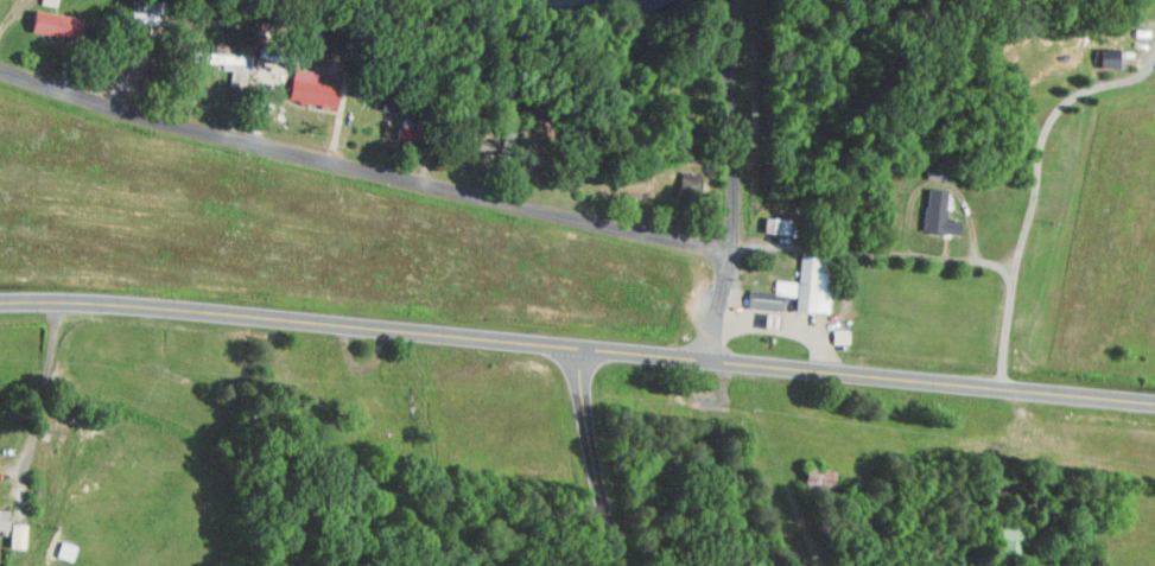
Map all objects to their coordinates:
building: (131, 7)
building: (36, 15)
building: (1094, 50)
building: (221, 57)
building: (297, 82)
road: (360, 161)
building: (675, 178)
road: (724, 179)
road: (1035, 186)
building: (924, 206)
road: (872, 250)
building: (794, 278)
building: (750, 292)
road: (577, 345)
road: (43, 383)
road: (592, 458)
building: (5, 528)
building: (994, 533)

